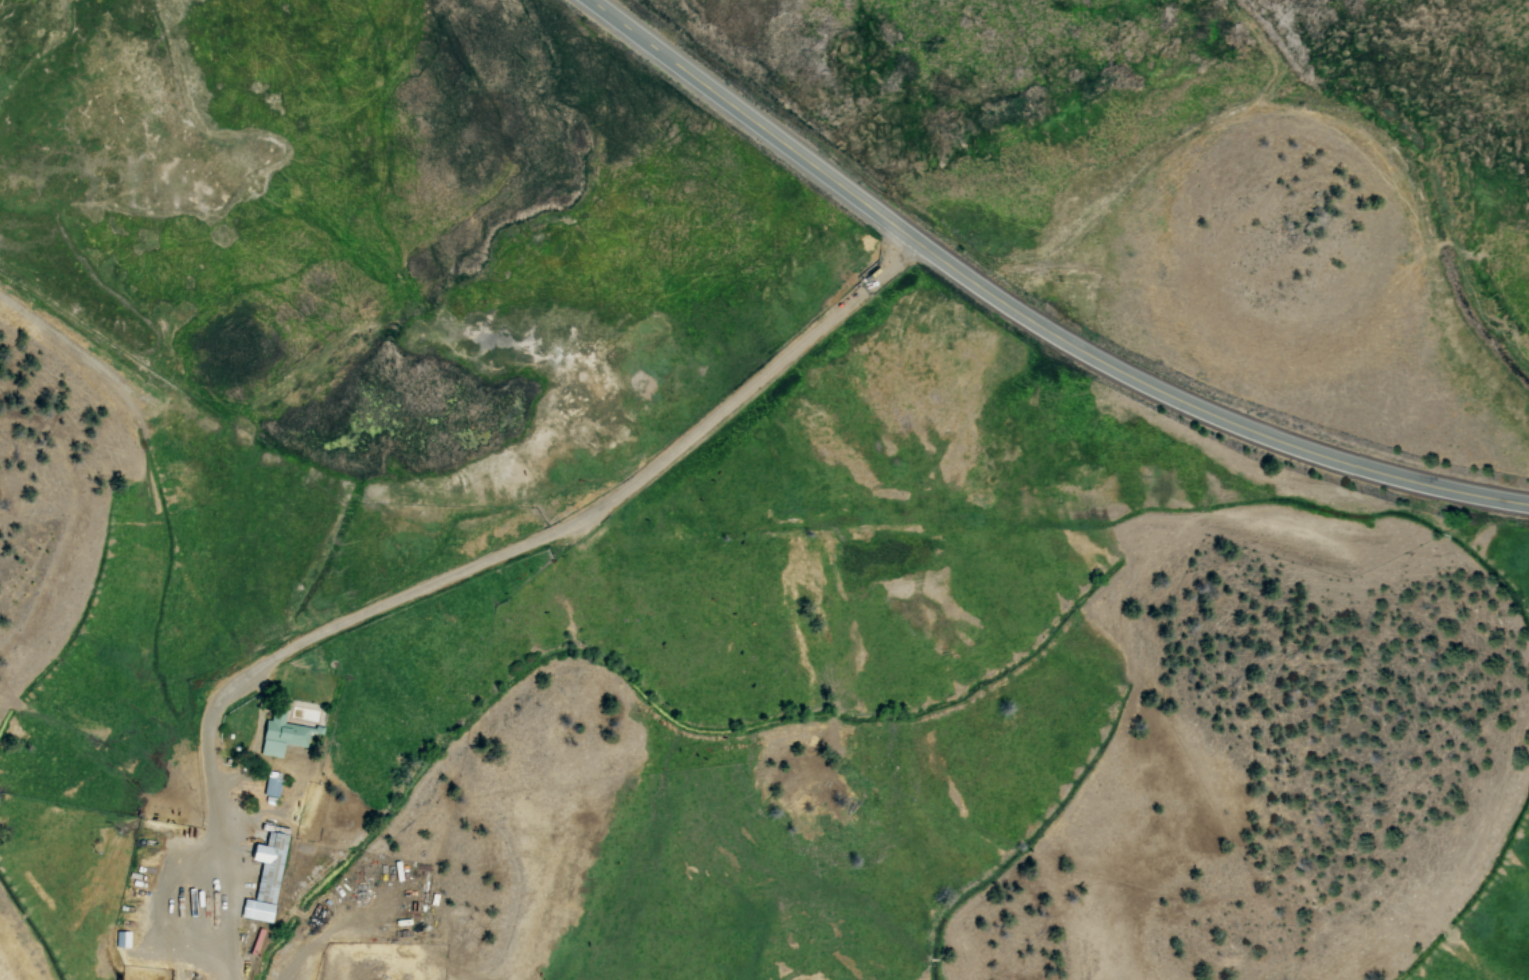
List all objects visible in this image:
road: (1027, 316)
road: (107, 369)
road: (173, 529)
road: (461, 567)
building: (291, 726)
building: (273, 787)
building: (267, 875)
building: (123, 939)

